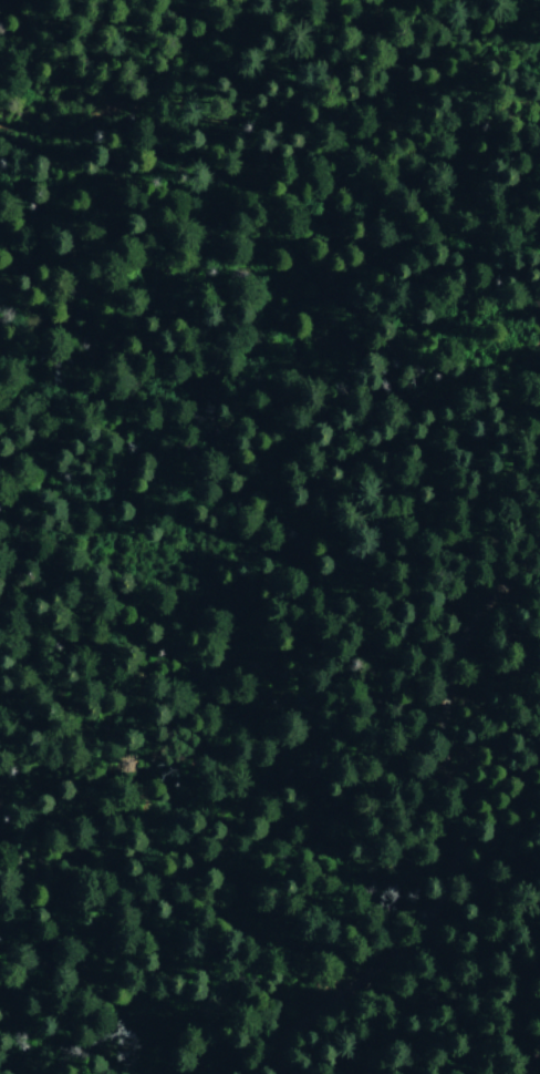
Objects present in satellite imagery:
road: (451, 838)

